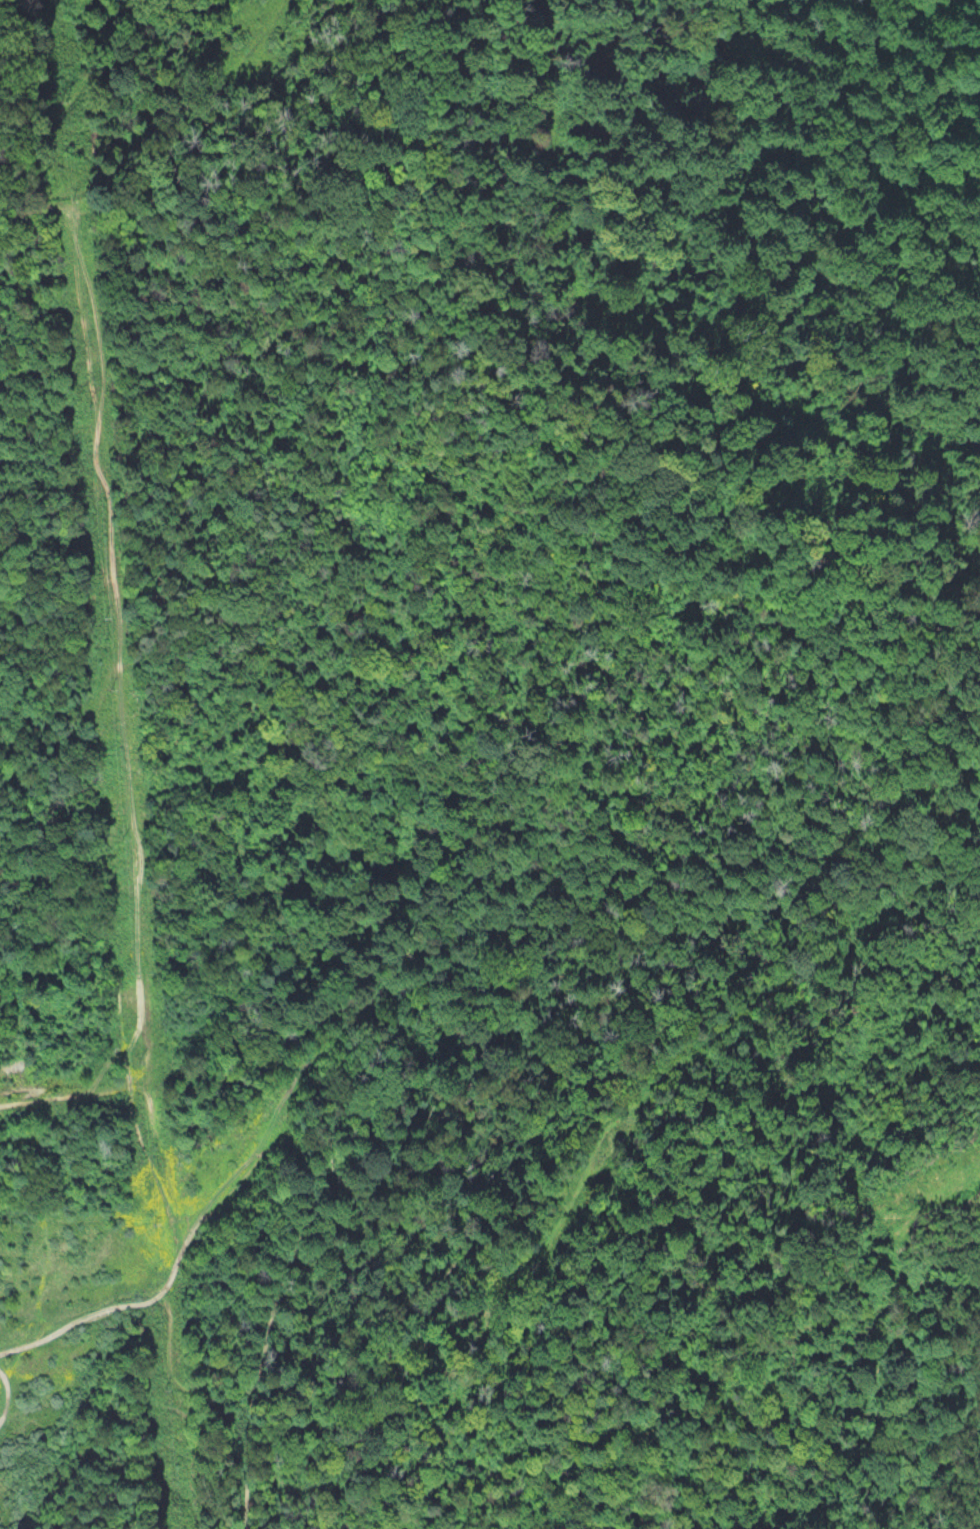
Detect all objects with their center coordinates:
road: (150, 976)
road: (146, 1093)
road: (174, 1260)

